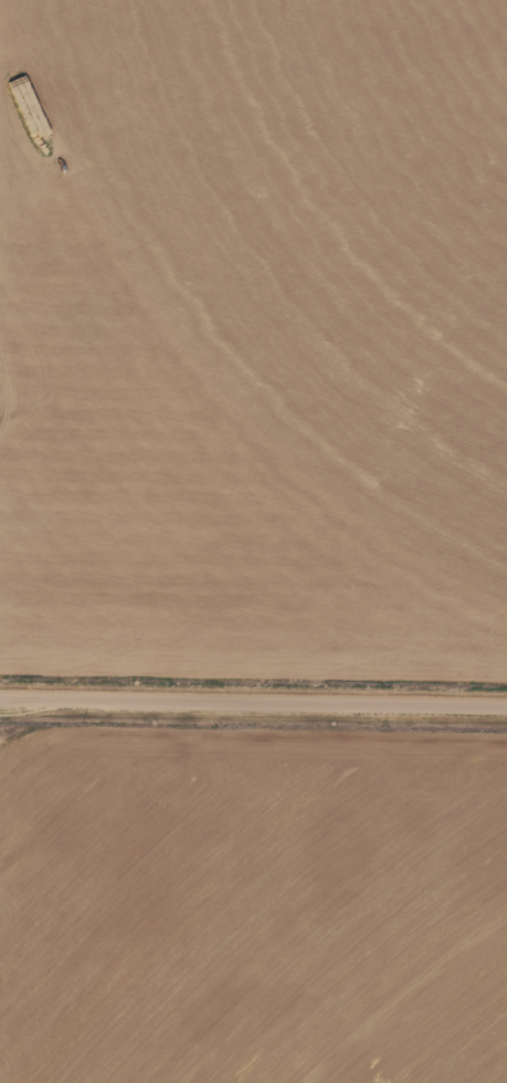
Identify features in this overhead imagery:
road: (253, 702)

